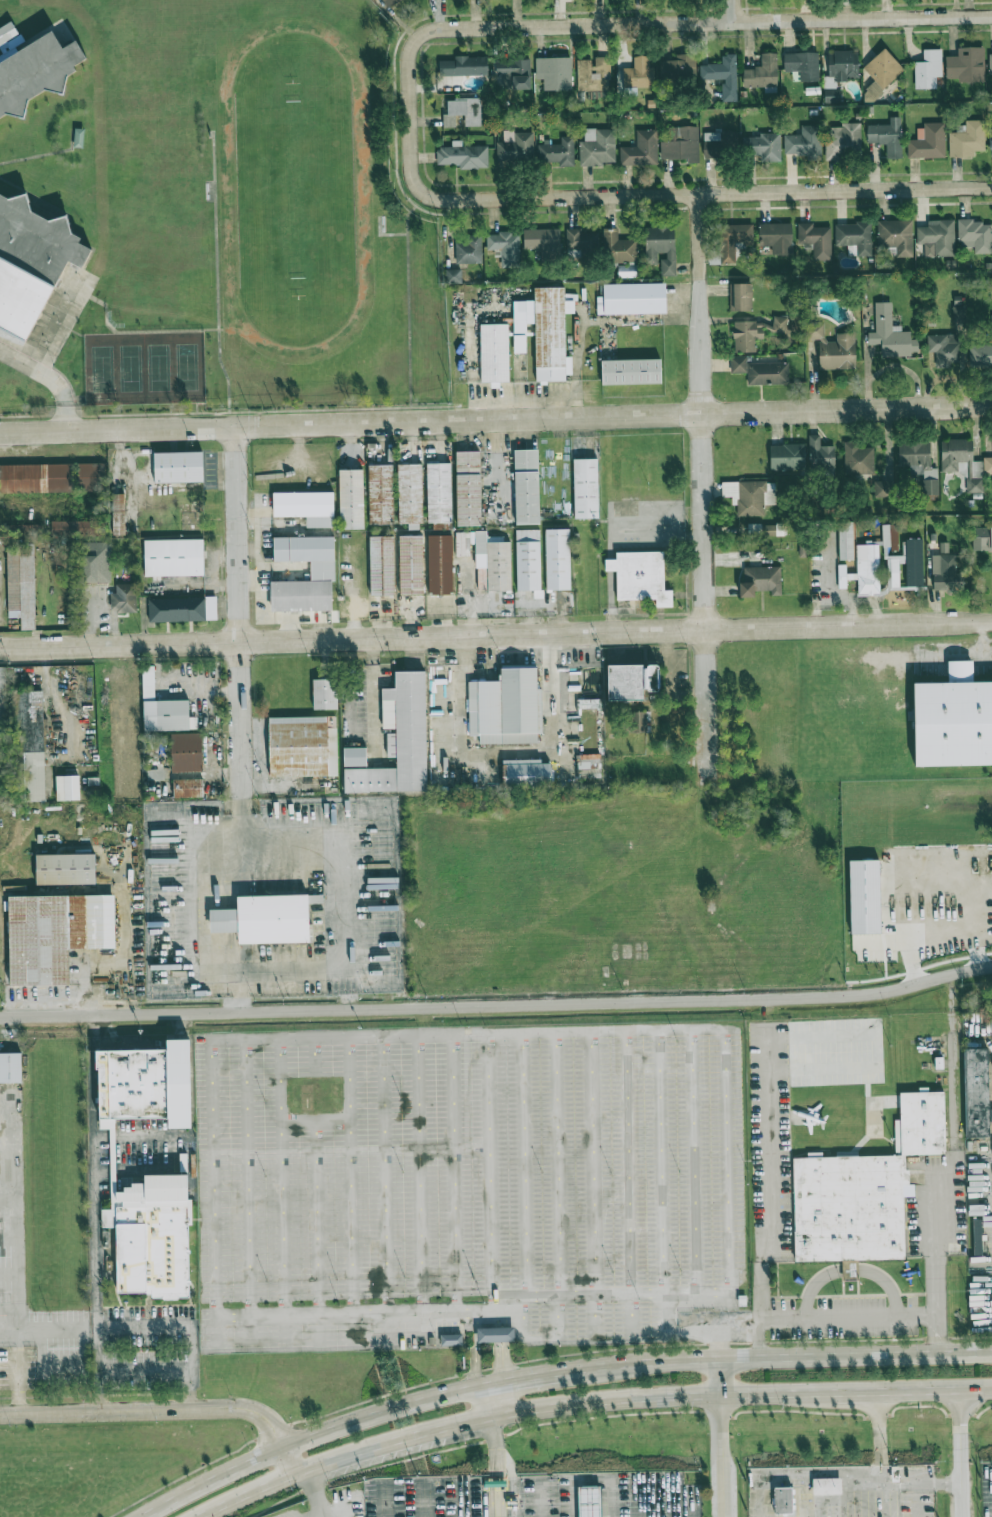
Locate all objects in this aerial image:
building: (390, 2)
road: (736, 10)
road: (604, 25)
building: (10, 40)
building: (990, 63)
building: (802, 65)
building: (464, 66)
building: (841, 66)
building: (966, 66)
building: (928, 69)
building: (678, 70)
building: (36, 71)
building: (555, 71)
building: (762, 72)
building: (882, 72)
building: (514, 73)
building: (638, 73)
building: (593, 74)
building: (722, 75)
building: (831, 95)
building: (463, 112)
building: (887, 136)
building: (990, 137)
building: (967, 139)
building: (843, 140)
building: (927, 141)
building: (804, 143)
building: (681, 144)
building: (720, 144)
building: (597, 146)
building: (763, 146)
building: (516, 148)
building: (640, 149)
building: (557, 151)
building: (463, 155)
track: (295, 189)
road: (724, 194)
building: (976, 235)
building: (776, 236)
building: (855, 236)
building: (896, 236)
building: (937, 238)
building: (733, 240)
building: (816, 240)
building: (542, 242)
building: (602, 244)
building: (505, 247)
building: (661, 247)
building: (469, 250)
building: (31, 261)
building: (453, 275)
road: (216, 279)
building: (740, 297)
building: (635, 298)
road: (408, 305)
building: (959, 313)
building: (796, 323)
building: (991, 323)
building: (754, 332)
building: (551, 334)
building: (890, 334)
building: (519, 343)
building: (833, 348)
building: (944, 349)
building: (496, 353)
building: (980, 355)
building: (738, 364)
park: (145, 366)
building: (632, 371)
building: (767, 373)
road: (51, 379)
road: (496, 419)
road: (120, 452)
building: (820, 454)
building: (787, 456)
building: (962, 461)
building: (919, 464)
building: (987, 465)
building: (179, 467)
building: (90, 477)
building: (37, 478)
building: (528, 486)
building: (469, 488)
building: (586, 488)
road: (704, 489)
building: (883, 489)
building: (380, 494)
building: (410, 494)
building: (439, 494)
building: (750, 496)
building: (351, 498)
building: (304, 504)
building: (117, 514)
building: (79, 528)
building: (32, 529)
building: (770, 530)
building: (982, 538)
building: (845, 540)
building: (308, 552)
building: (174, 557)
building: (528, 559)
building: (558, 559)
building: (902, 559)
building: (494, 560)
building: (96, 561)
building: (441, 564)
building: (383, 565)
building: (412, 565)
building: (943, 566)
building: (863, 570)
building: (641, 576)
building: (760, 581)
building: (21, 582)
building: (300, 592)
building: (126, 598)
building: (182, 608)
road: (849, 626)
road: (238, 628)
road: (353, 639)
road: (961, 657)
building: (629, 682)
road: (667, 684)
building: (325, 694)
road: (457, 695)
road: (551, 695)
building: (506, 707)
building: (163, 708)
building: (955, 719)
building: (637, 720)
building: (2, 735)
building: (399, 740)
building: (303, 746)
building: (187, 752)
building: (354, 756)
building: (589, 765)
building: (530, 775)
building: (93, 783)
building: (67, 787)
building: (189, 788)
building: (65, 869)
park: (786, 896)
building: (864, 897)
building: (265, 919)
road: (937, 926)
building: (56, 934)
road: (301, 974)
road: (236, 994)
road: (497, 1004)
road: (874, 1052)
road: (313, 1056)
building: (10, 1067)
building: (155, 1078)
building: (976, 1090)
road: (313, 1122)
building: (923, 1122)
parking lot: (770, 1140)
road: (693, 1160)
road: (661, 1161)
road: (590, 1163)
road: (95, 1169)
road: (490, 1170)
road: (451, 1174)
road: (349, 1175)
road: (420, 1175)
road: (385, 1176)
road: (278, 1177)
road: (947, 1177)
road: (627, 1182)
road: (522, 1183)
road: (557, 1183)
parking lot: (476, 1186)
road: (248, 1191)
road: (771, 1193)
road: (9, 1200)
building: (848, 1207)
parking lot: (940, 1209)
road: (315, 1232)
building: (157, 1233)
building: (977, 1235)
road: (20, 1255)
building: (850, 1268)
road: (850, 1270)
road: (886, 1284)
road: (814, 1286)
parking lot: (980, 1303)
road: (497, 1311)
road: (219, 1313)
road: (593, 1313)
parking lot: (847, 1315)
road: (851, 1316)
road: (502, 1321)
road: (497, 1322)
road: (185, 1325)
road: (281, 1329)
road: (219, 1330)
road: (506, 1333)
building: (494, 1334)
road: (496, 1334)
road: (683, 1334)
road: (11, 1338)
building: (451, 1339)
road: (475, 1347)
road: (496, 1351)
road: (506, 1351)
road: (780, 1356)
parking lot: (19, 1367)
road: (97, 1368)
road: (496, 1370)
road: (528, 1376)
road: (722, 1377)
road: (488, 1380)
road: (742, 1395)
road: (491, 1400)
road: (151, 1409)
road: (386, 1410)
road: (880, 1436)
road: (397, 1441)
road: (494, 1448)
road: (961, 1454)
road: (724, 1456)
road: (294, 1458)
road: (212, 1478)
road: (939, 1481)
road: (310, 1483)
road: (495, 1483)
building: (832, 1488)
parking lot: (985, 1489)
parking lot: (842, 1491)
road: (249, 1492)
airport: (671, 1494)
parking lot: (522, 1496)
road: (540, 1498)
road: (573, 1499)
road: (611, 1499)
road: (320, 1500)
road: (496, 1501)
building: (589, 1501)
building: (788, 1501)
road: (321, 1507)
road: (337, 1507)
road: (916, 1508)
parking lot: (290, 1510)
road: (310, 1513)
road: (322, 1513)

